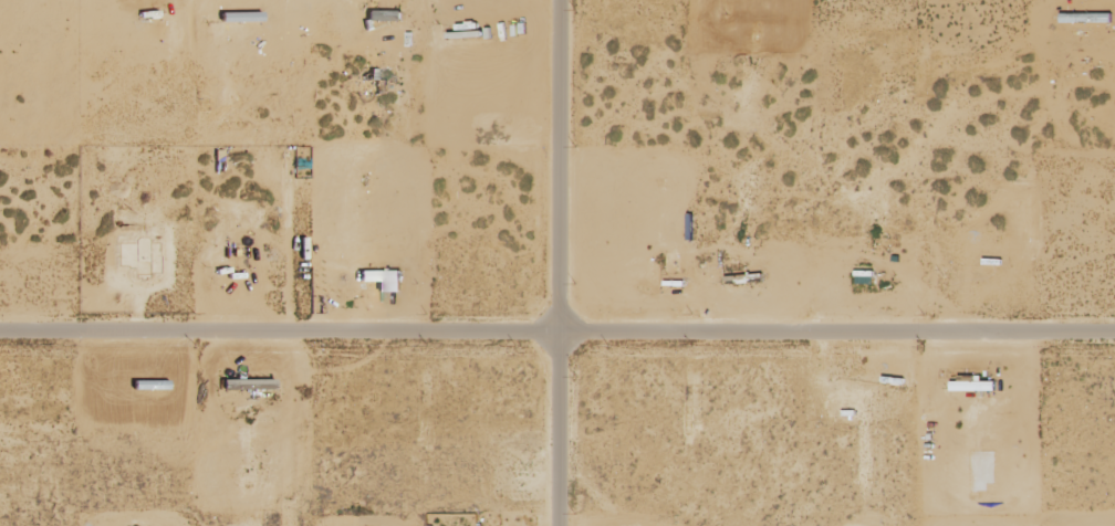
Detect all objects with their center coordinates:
road: (560, 263)
road: (556, 328)

